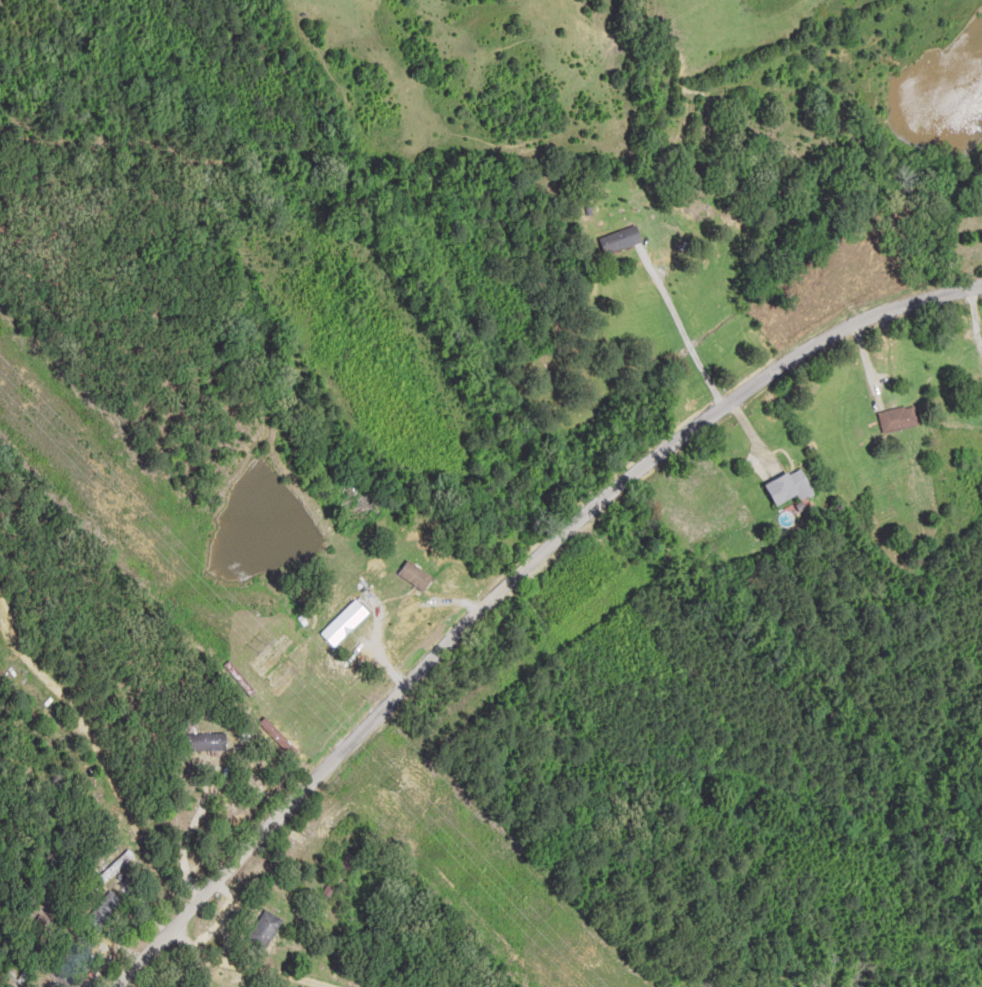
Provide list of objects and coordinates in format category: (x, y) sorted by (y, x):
building: (621, 238)
building: (901, 417)
building: (791, 485)
road: (532, 583)
building: (206, 742)
building: (26, 749)
building: (102, 913)
road: (323, 920)
building: (265, 929)
building: (57, 976)

